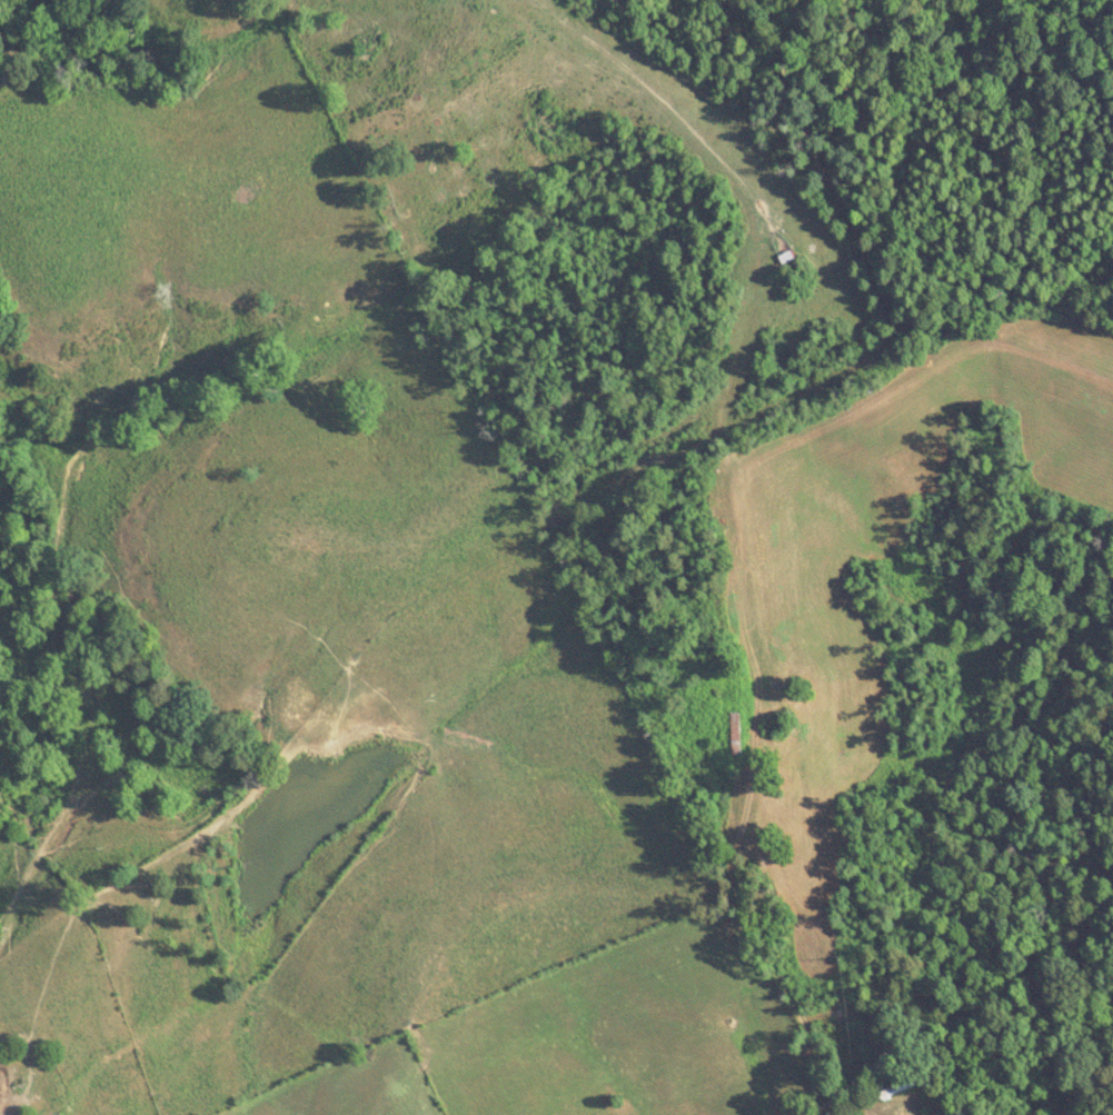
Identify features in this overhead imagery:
building: (893, 1089)
road: (789, 1096)

